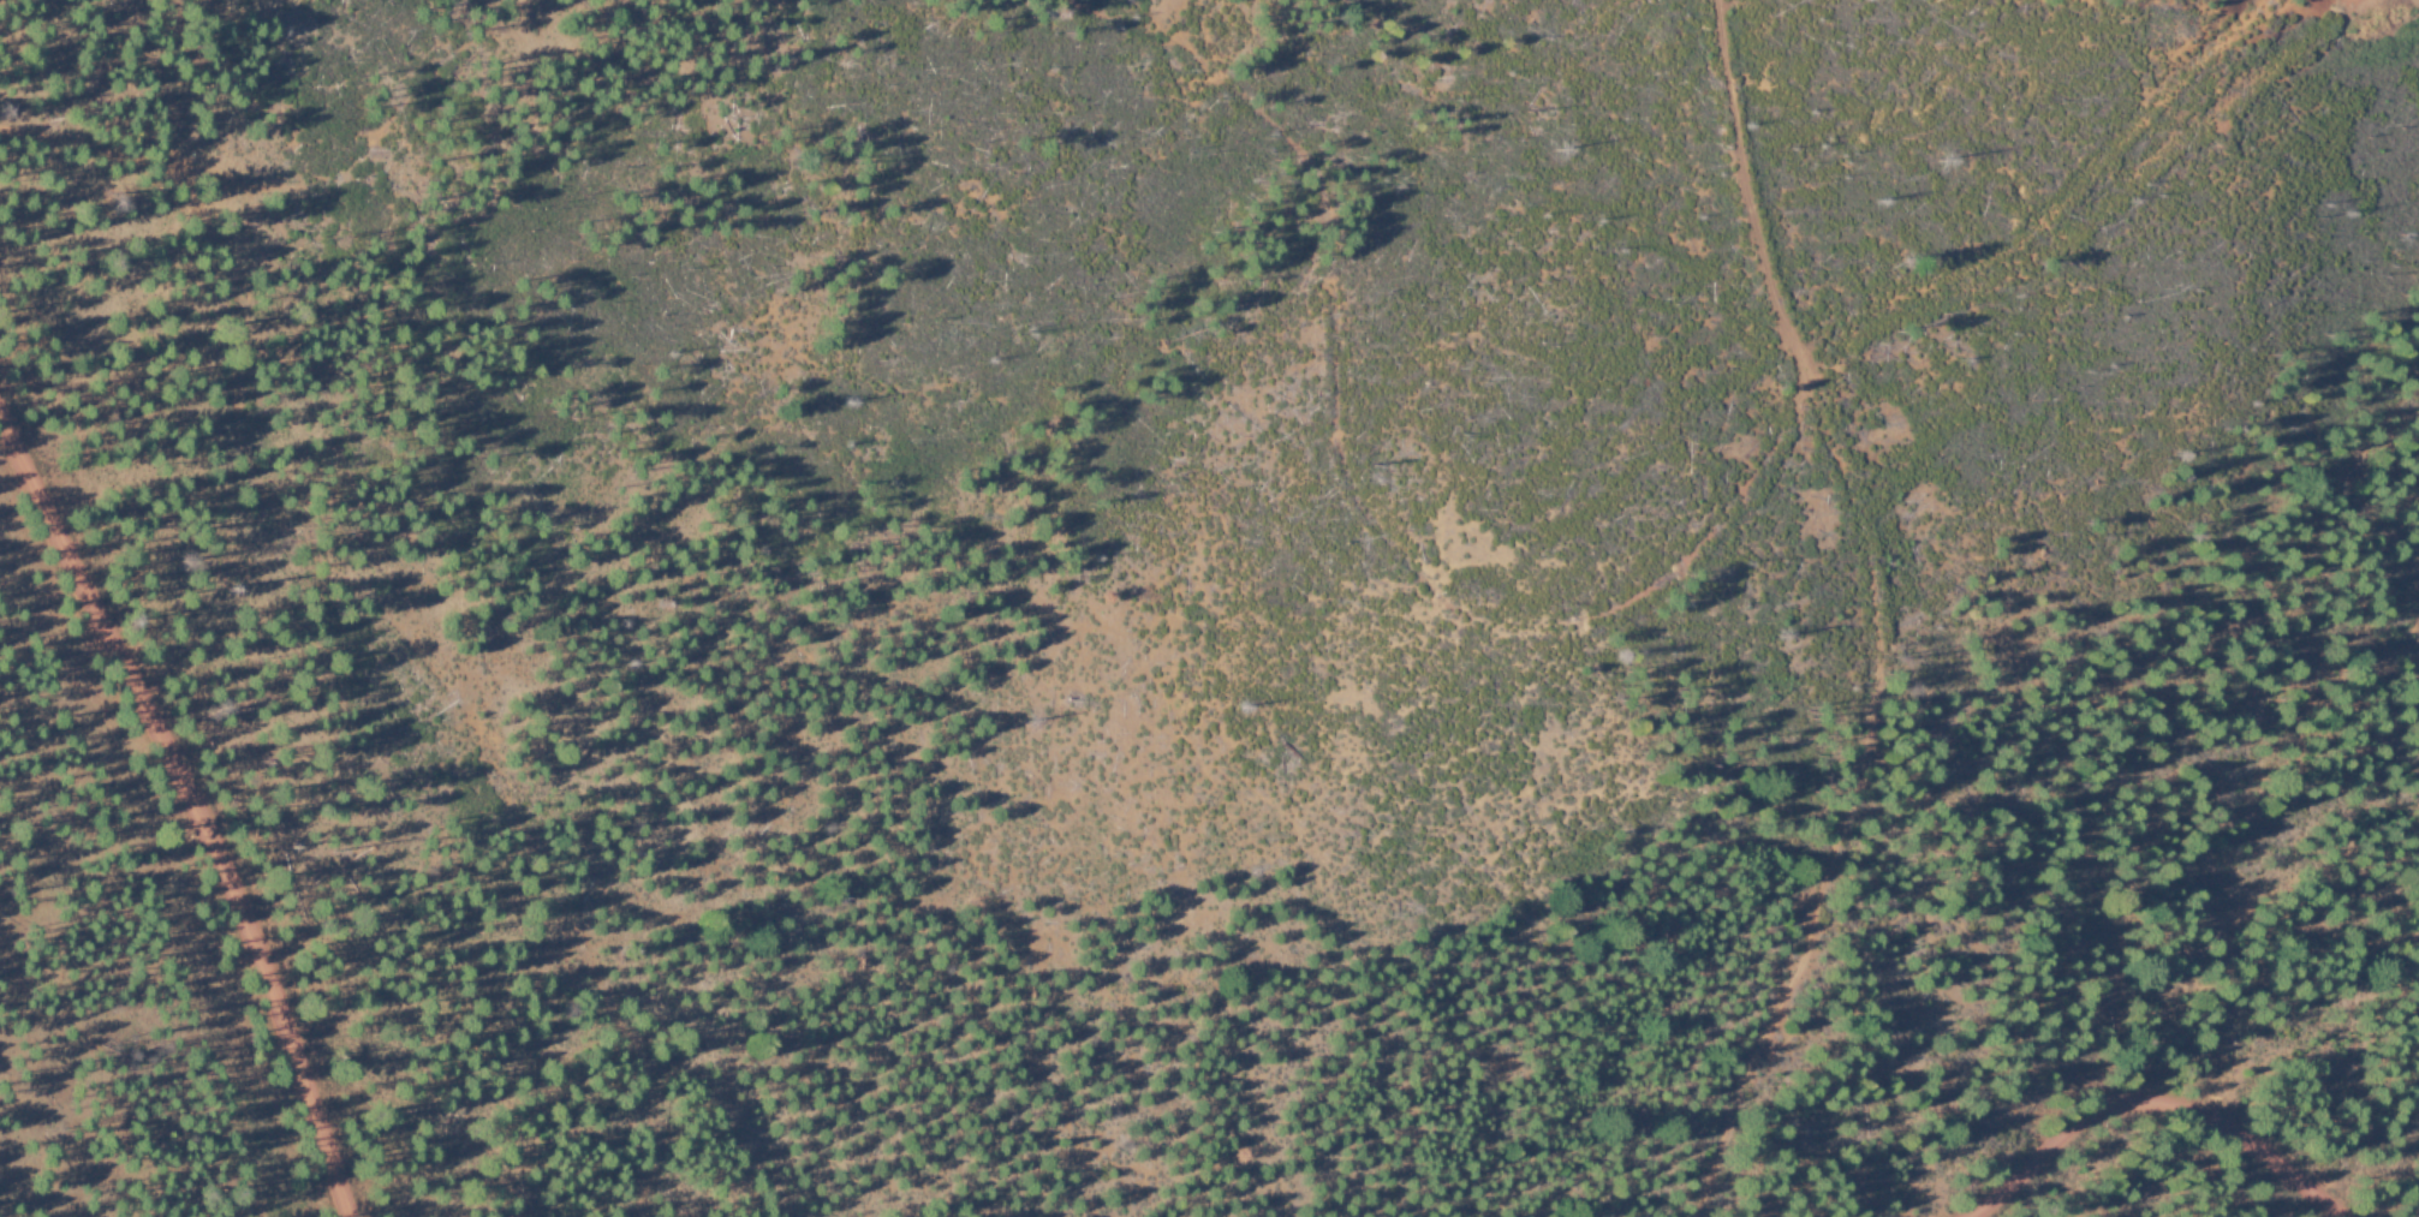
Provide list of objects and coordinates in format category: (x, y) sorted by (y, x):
road: (189, 807)
road: (2146, 1104)

